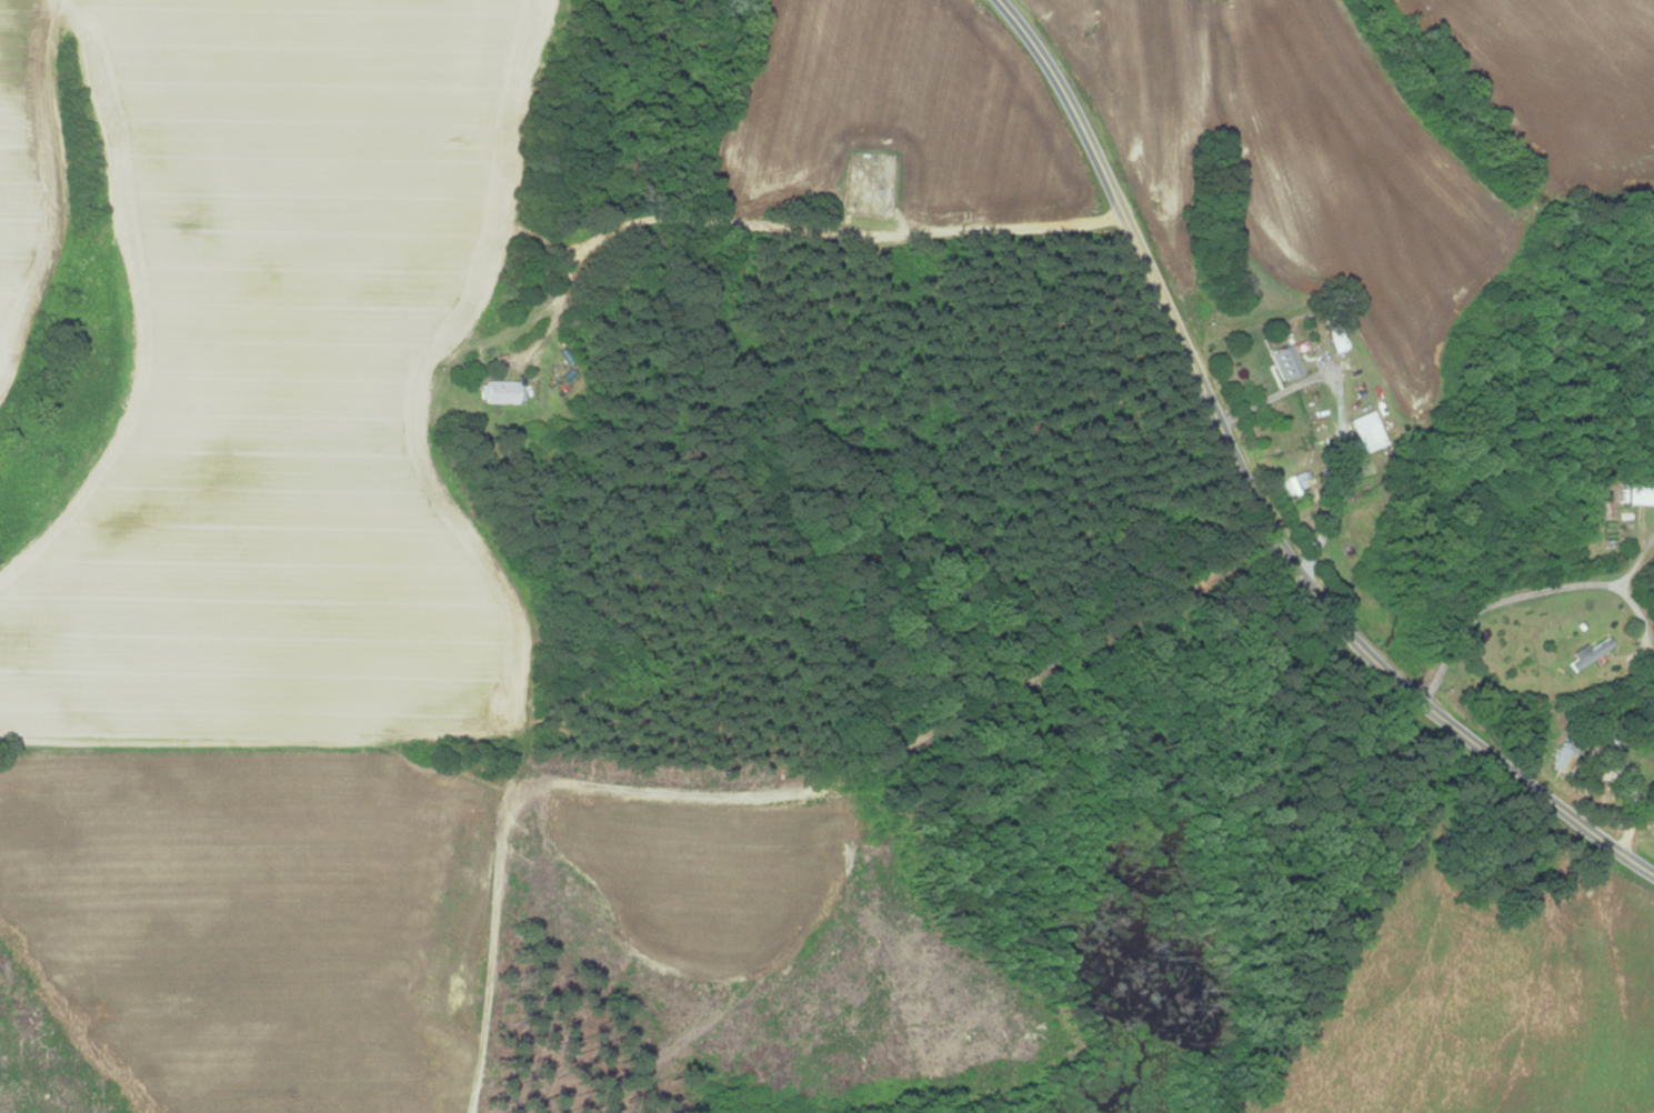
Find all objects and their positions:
road: (783, 227)
building: (1286, 362)
crop: (264, 368)
building: (501, 392)
road: (1343, 421)
building: (1367, 431)
building: (1299, 482)
building: (1640, 494)
road: (1249, 498)
building: (1606, 507)
road: (1514, 596)
building: (1586, 653)

